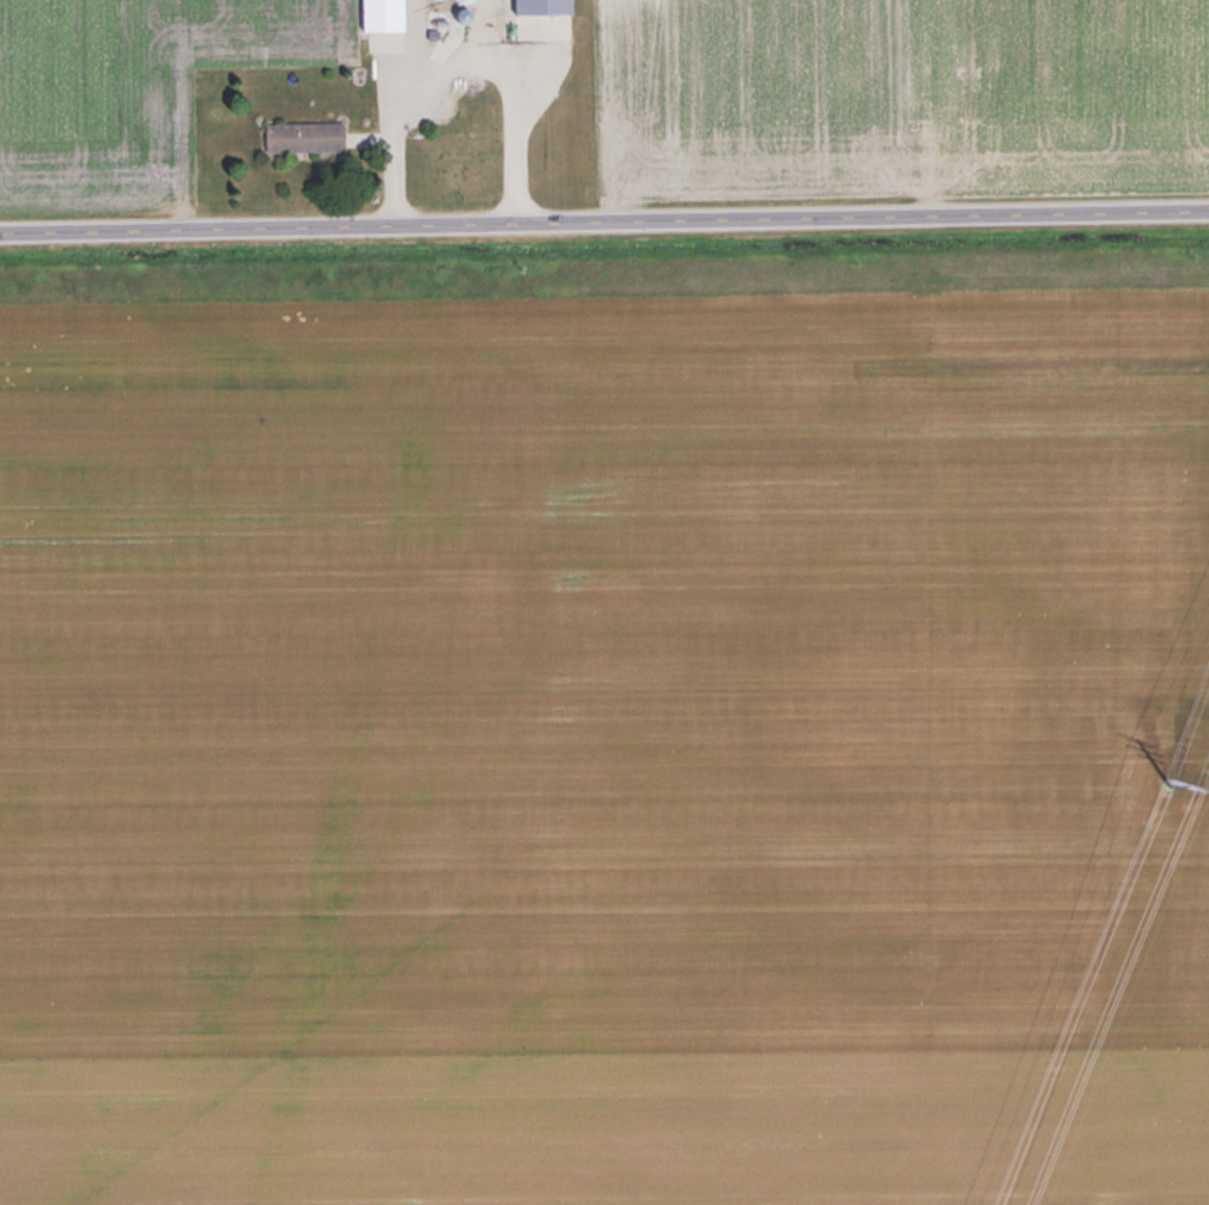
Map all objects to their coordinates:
building: (467, 0)
building: (384, 14)
building: (539, 14)
road: (461, 59)
building: (306, 136)
road: (603, 218)
power tower: (1160, 790)

